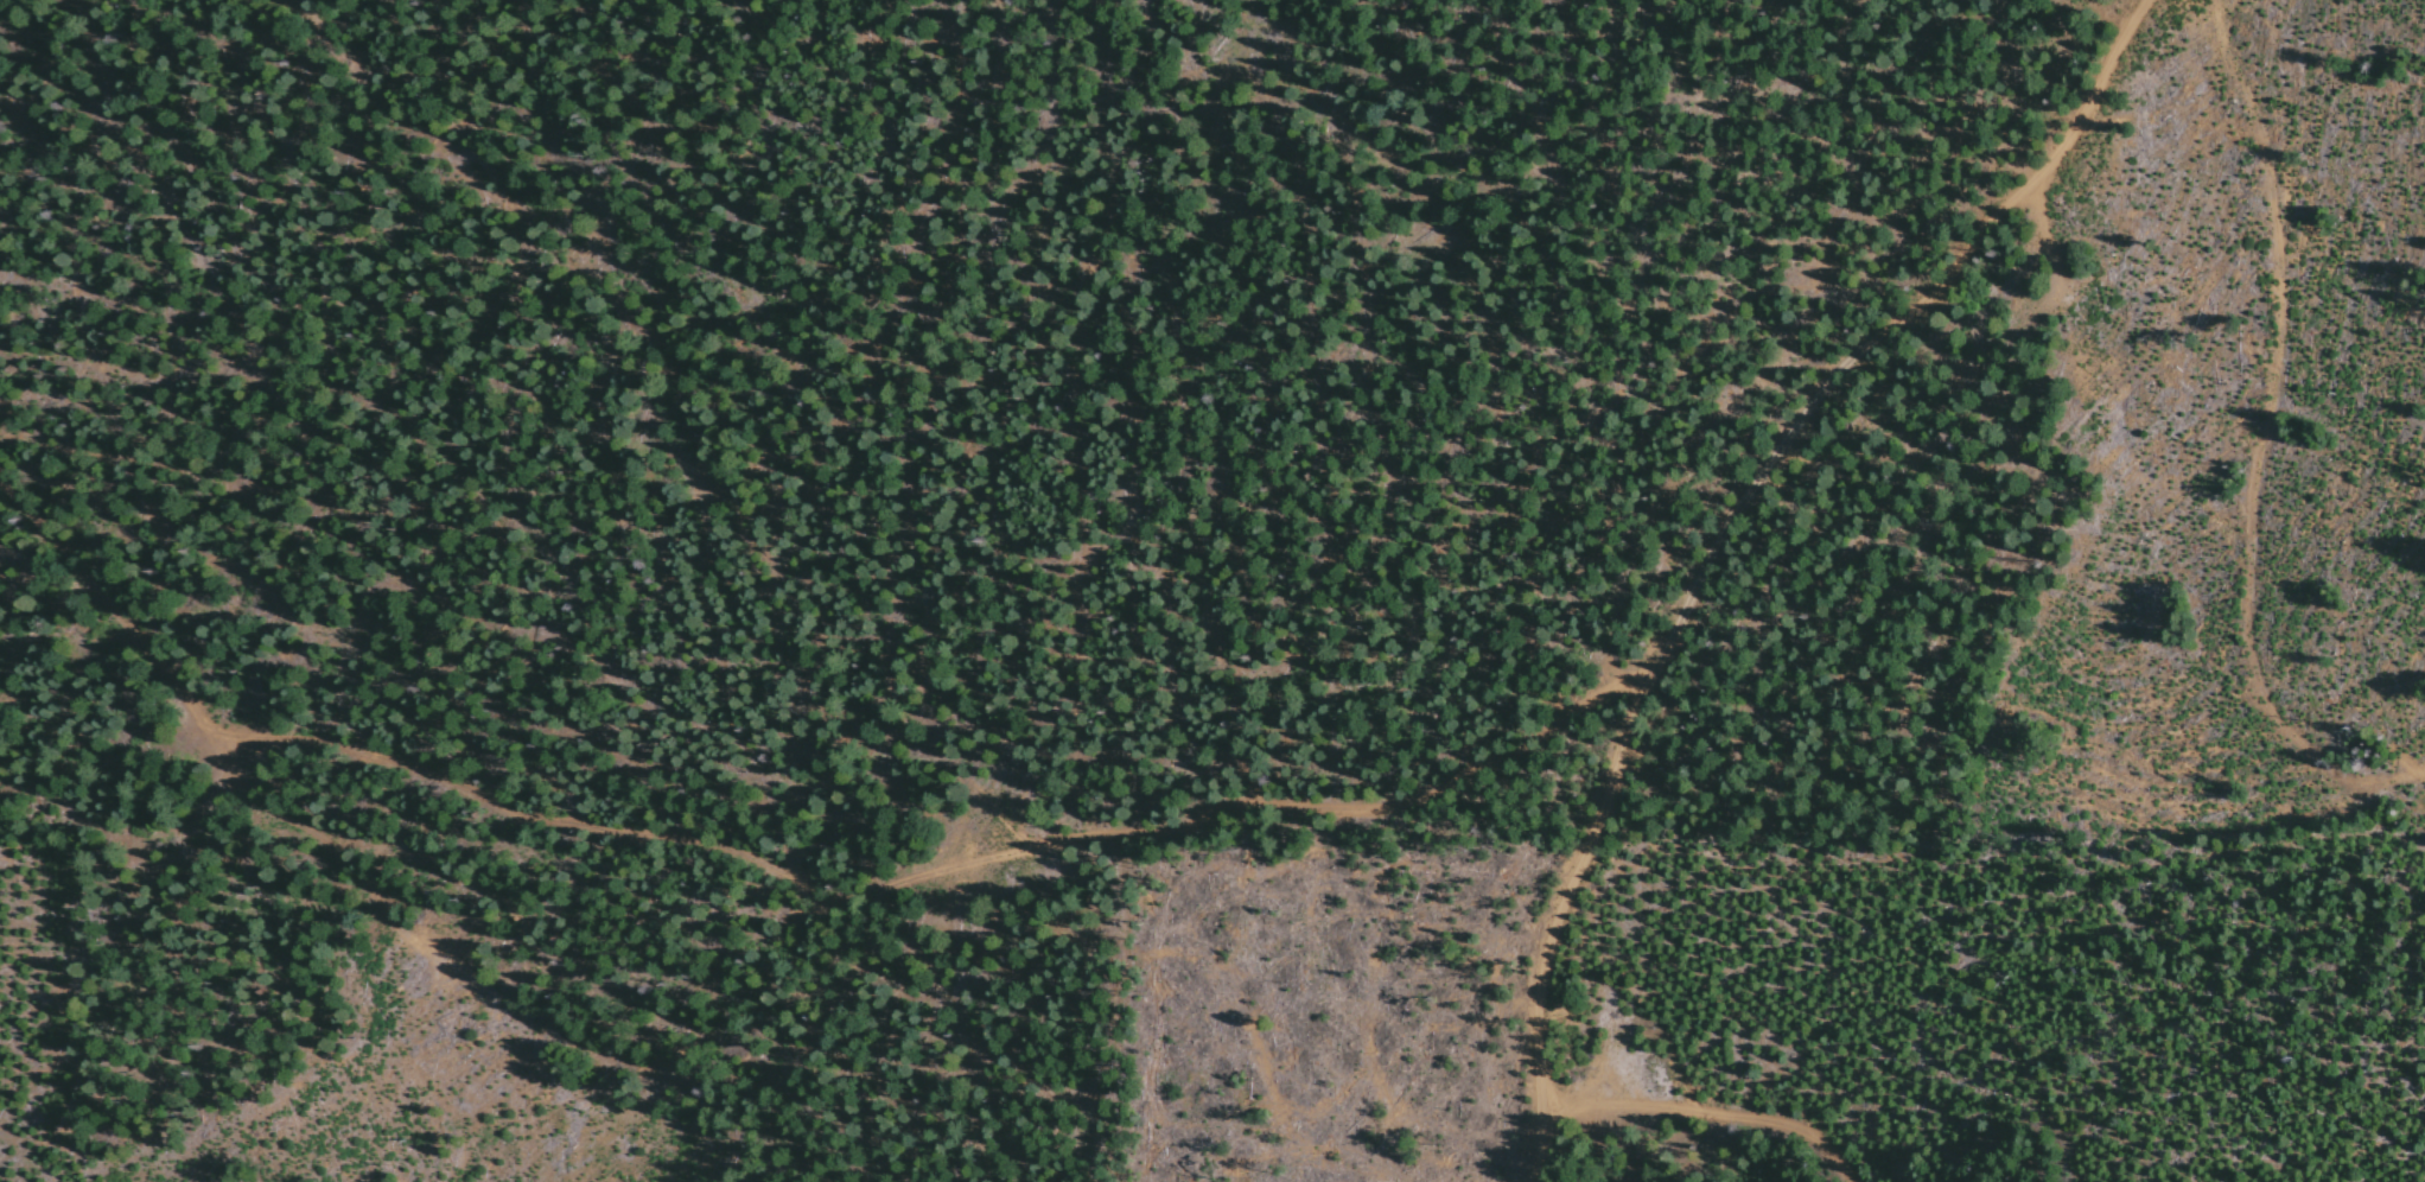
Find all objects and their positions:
road: (1727, 532)
road: (1659, 1101)

